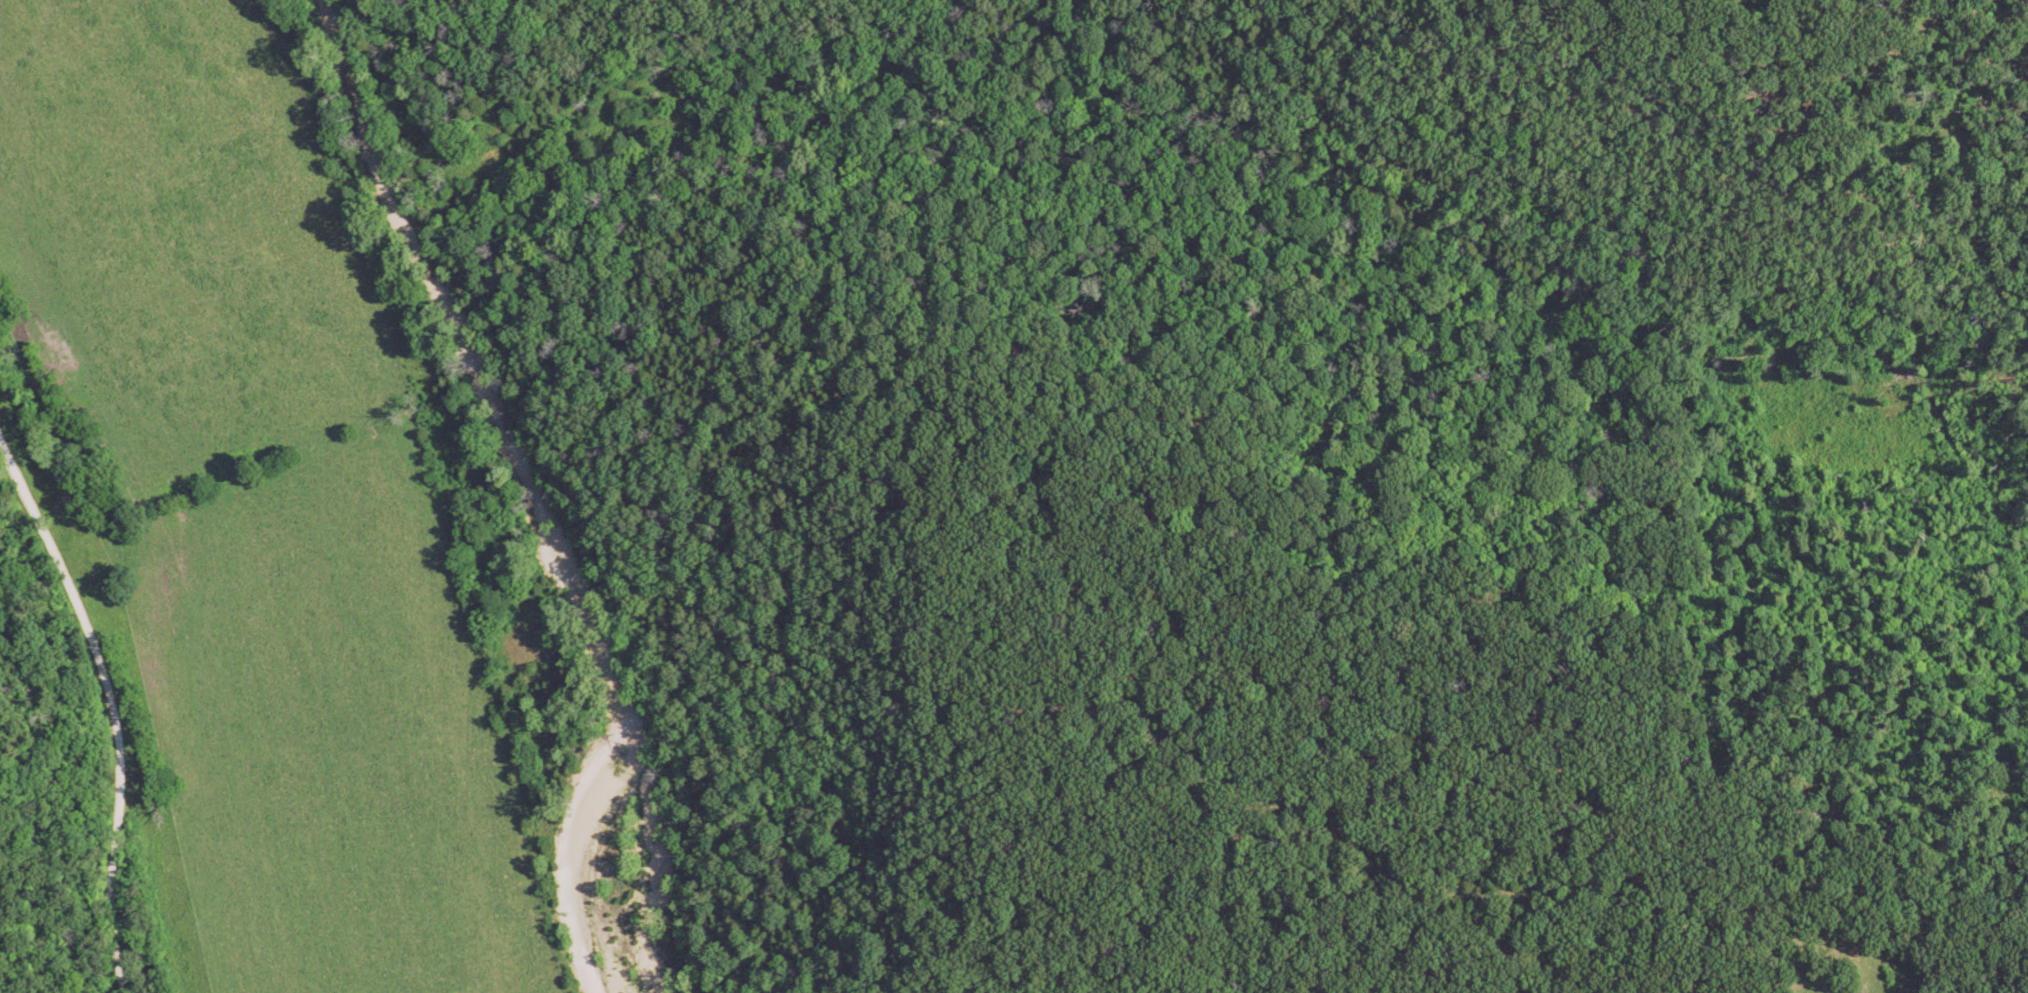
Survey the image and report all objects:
river: (547, 481)
road: (111, 703)

